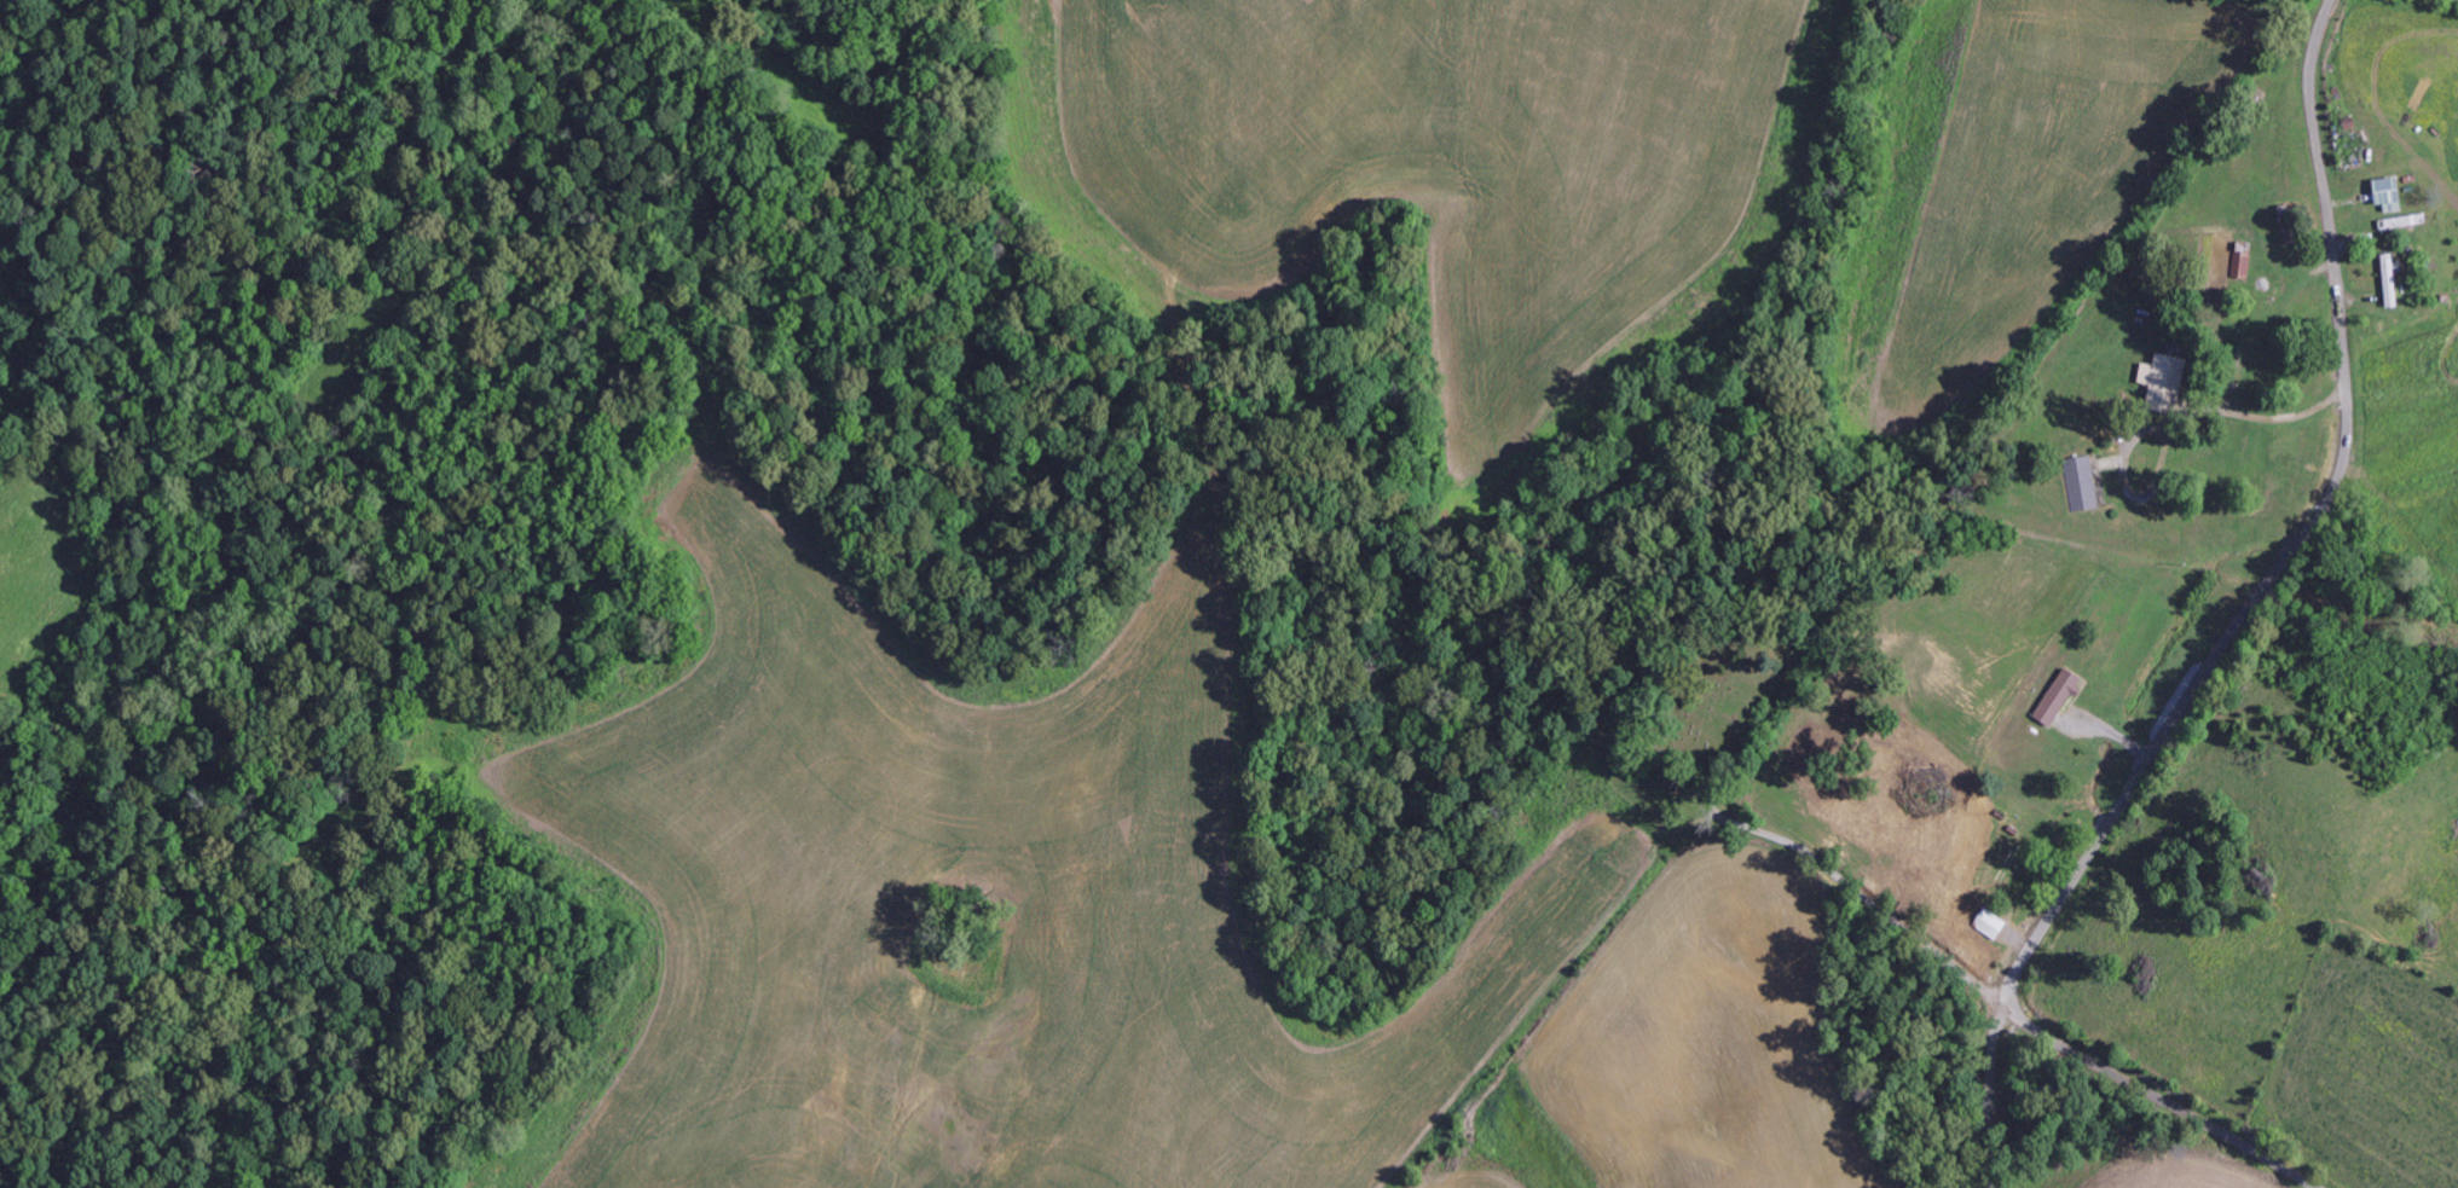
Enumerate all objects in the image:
building: (2385, 193)
building: (2389, 279)
building: (2162, 381)
building: (2082, 483)
road: (2245, 612)
building: (2058, 697)
park: (1708, 711)
road: (1855, 889)
building: (1991, 923)
road: (2156, 1097)

